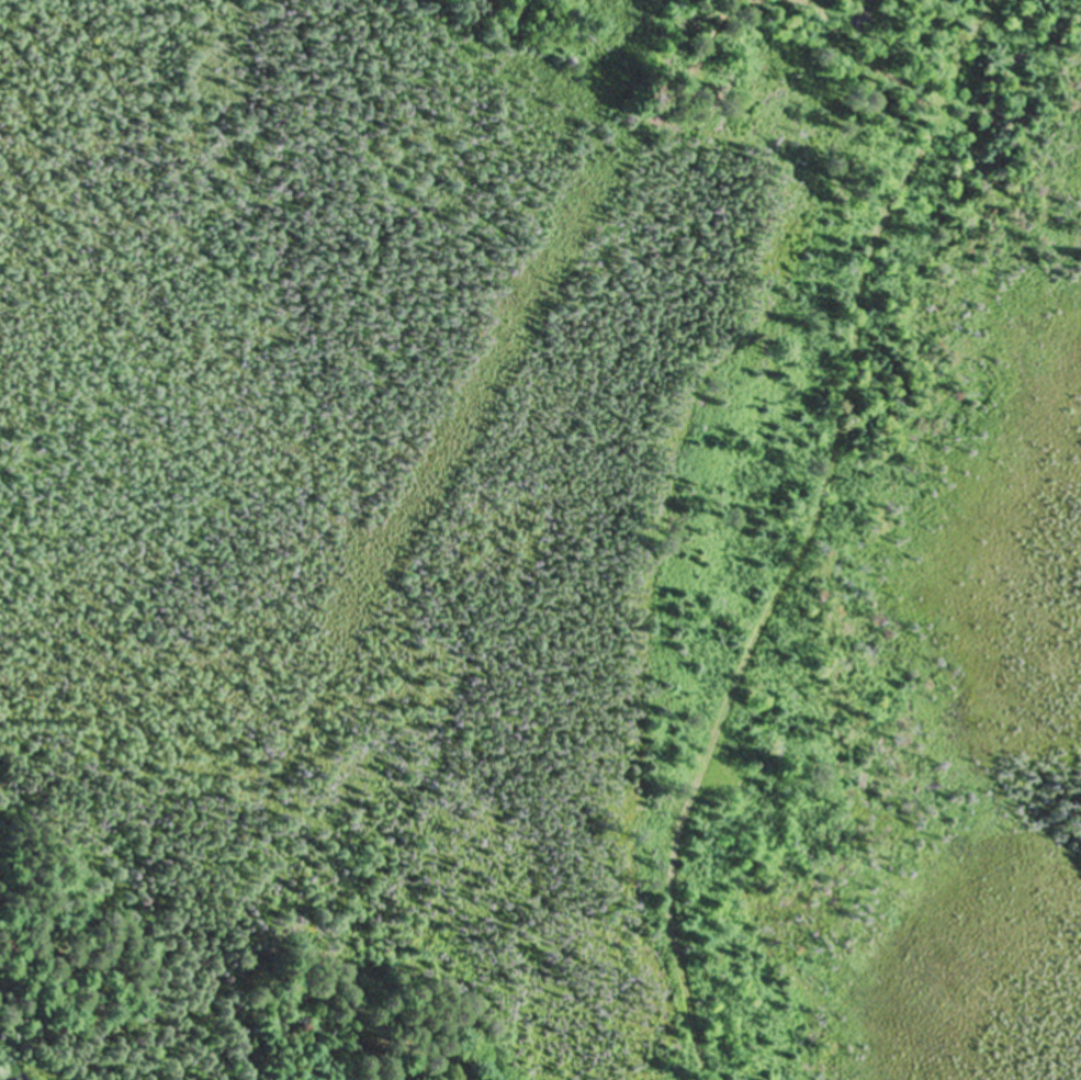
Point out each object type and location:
road: (772, 516)

